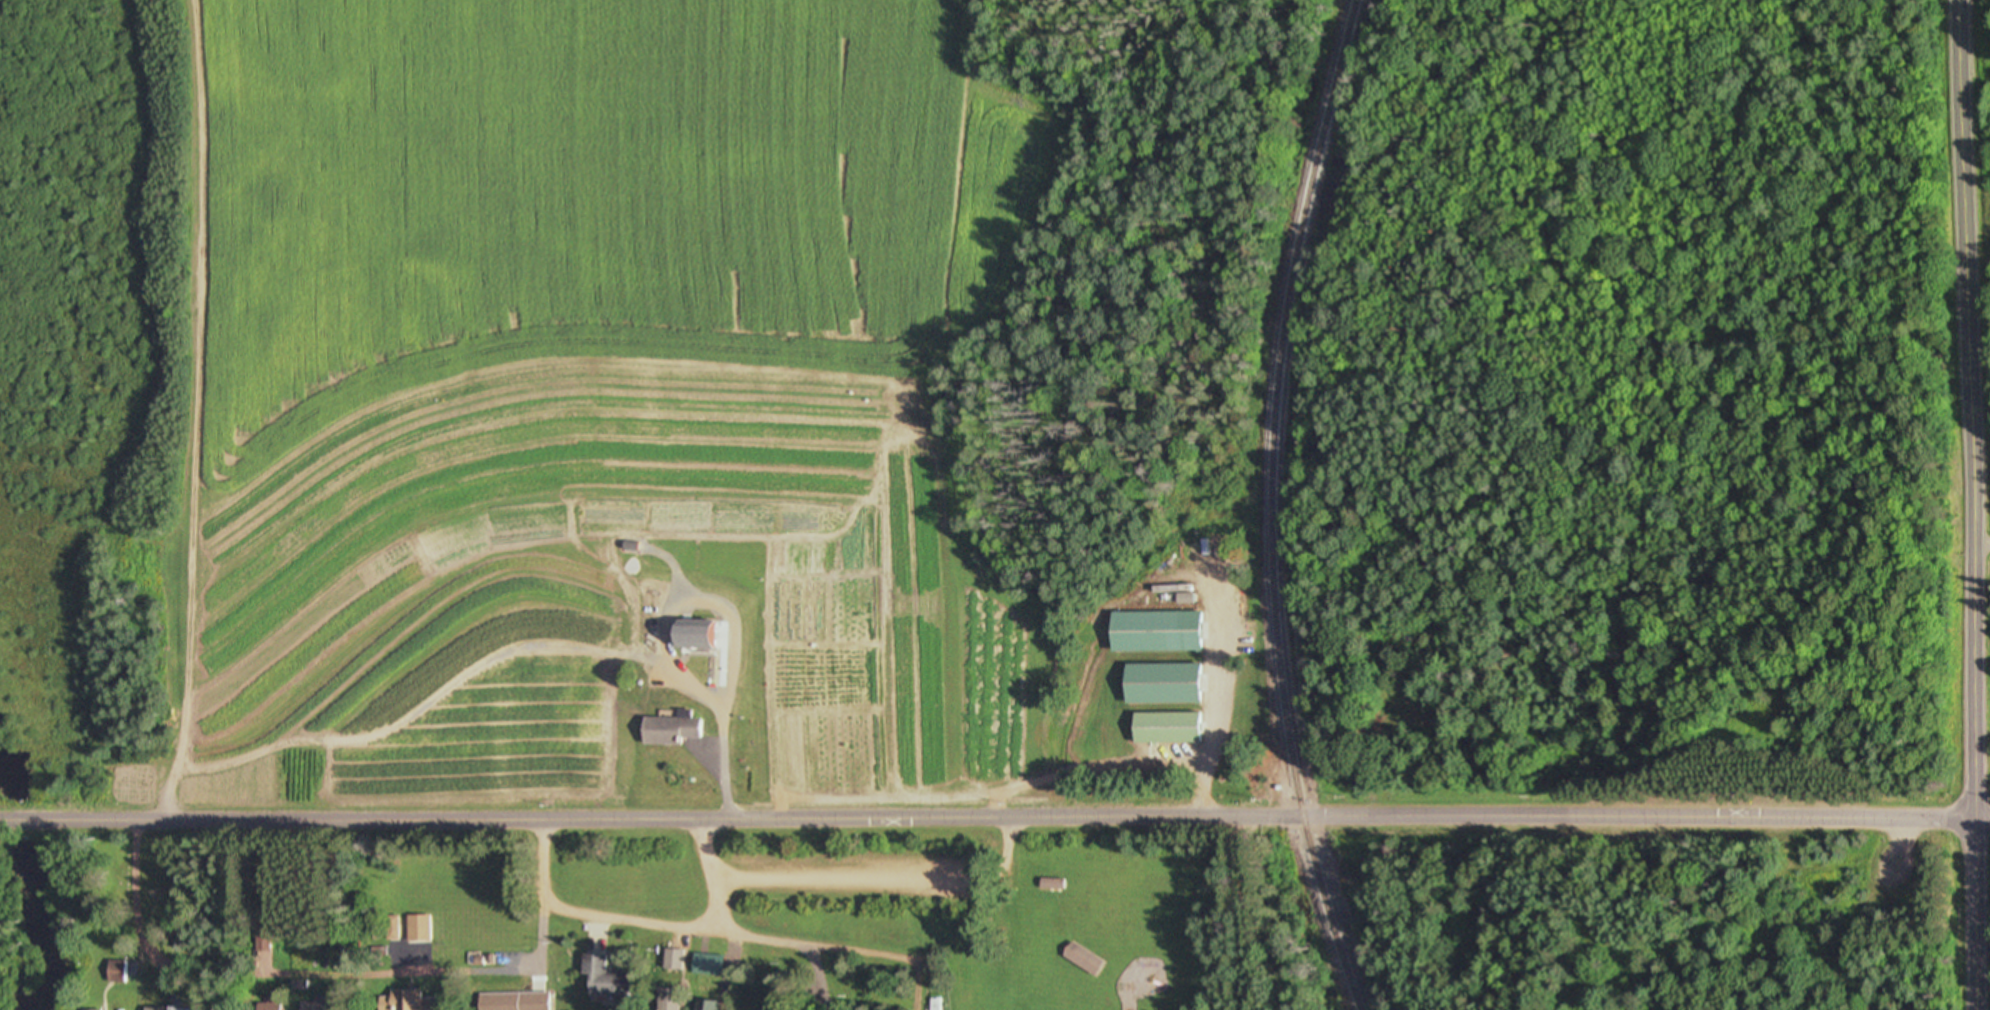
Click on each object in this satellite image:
road: (1964, 410)
railway: (1272, 506)
building: (1152, 633)
building: (690, 636)
building: (1160, 685)
building: (1164, 730)
building: (668, 731)
road: (985, 814)
road: (1980, 820)
building: (1048, 887)
park: (984, 904)
road: (1250, 913)
road: (1972, 915)
building: (388, 930)
building: (416, 930)
road: (802, 937)
building: (1080, 961)
building: (671, 962)
building: (705, 967)
building: (115, 974)
building: (601, 980)
building: (667, 1000)
building: (511, 1002)
building: (403, 1003)
building: (177, 1004)
building: (309, 1006)
road: (1254, 1006)
building: (266, 1007)
building: (706, 1007)

